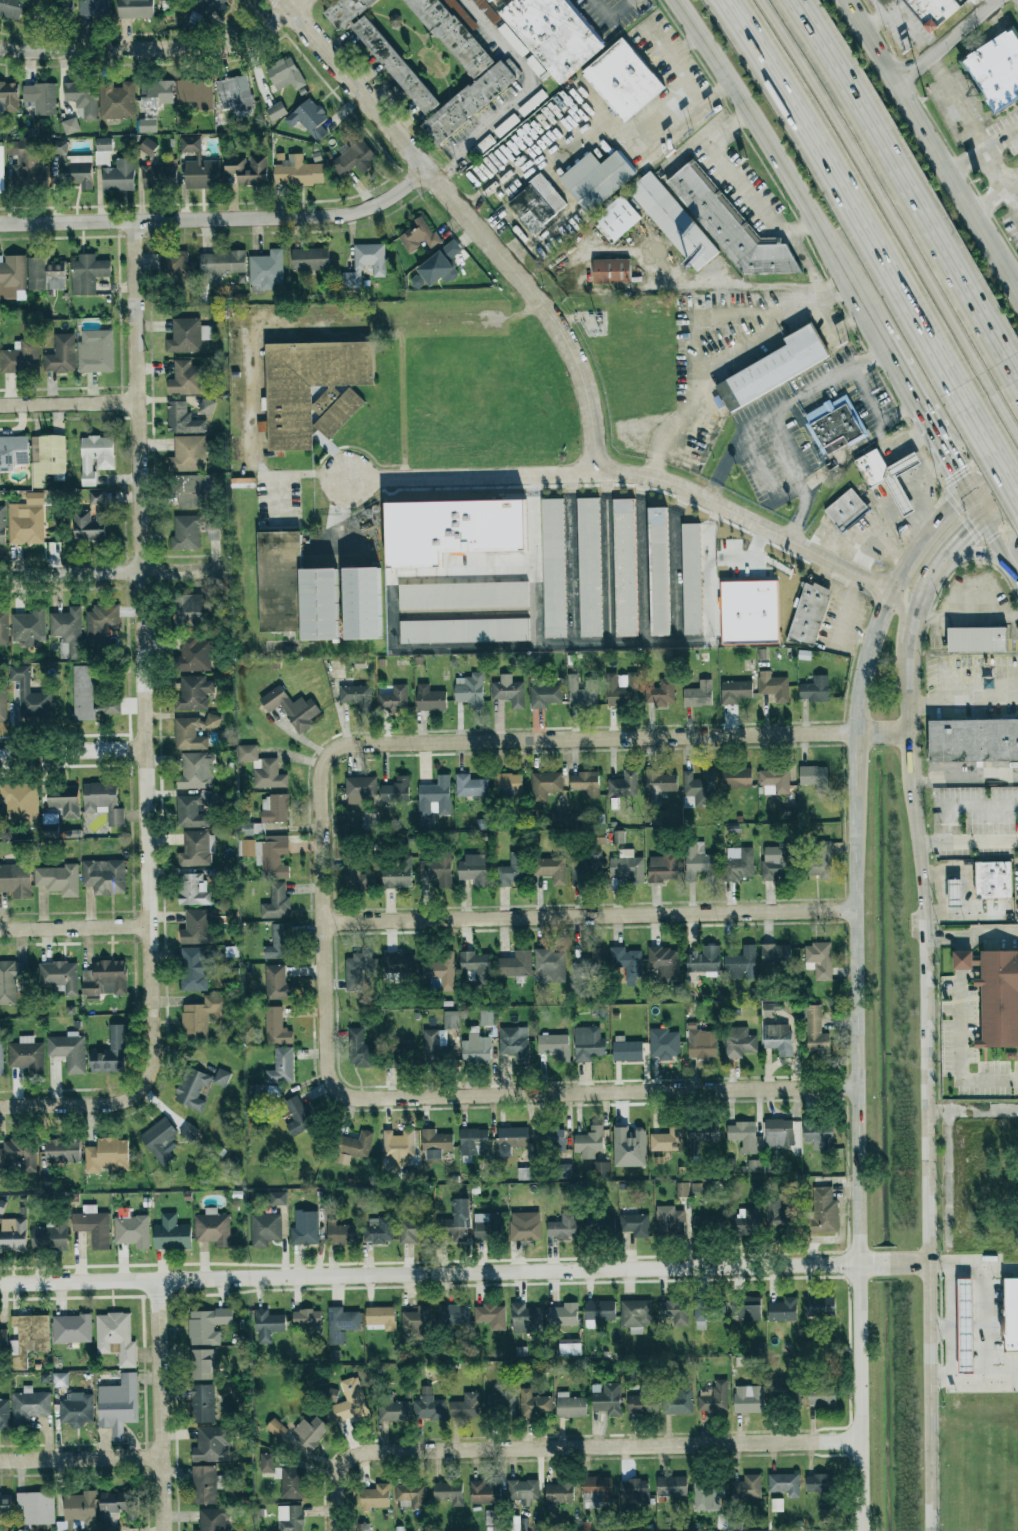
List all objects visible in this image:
building: (489, 0)
road: (294, 3)
building: (94, 7)
building: (211, 7)
building: (11, 8)
building: (134, 9)
building: (931, 11)
parking lot: (611, 16)
road: (610, 17)
road: (878, 17)
road: (907, 27)
building: (552, 35)
road: (948, 41)
road: (151, 47)
building: (379, 48)
building: (460, 69)
building: (996, 71)
building: (285, 74)
building: (623, 81)
road: (685, 81)
building: (156, 93)
building: (195, 94)
building: (234, 94)
building: (8, 96)
road: (522, 96)
building: (41, 98)
building: (82, 98)
building: (116, 100)
building: (276, 111)
building: (309, 119)
road: (968, 122)
building: (70, 126)
building: (147, 126)
building: (103, 144)
road: (933, 144)
building: (147, 146)
building: (59, 147)
road: (983, 150)
building: (102, 158)
building: (354, 159)
building: (27, 165)
building: (198, 166)
road: (785, 166)
building: (1, 169)
building: (248, 170)
building: (77, 171)
building: (297, 172)
building: (160, 175)
building: (119, 176)
road: (500, 178)
building: (597, 179)
road: (743, 185)
road: (906, 187)
road: (875, 194)
road: (994, 196)
road: (1011, 196)
road: (841, 203)
building: (537, 204)
road: (1016, 205)
building: (618, 217)
road: (219, 218)
road: (469, 221)
building: (709, 224)
building: (418, 236)
building: (453, 253)
road: (804, 258)
building: (310, 259)
building: (175, 264)
building: (364, 264)
building: (220, 266)
building: (437, 269)
building: (266, 270)
building: (611, 271)
building: (87, 273)
building: (46, 274)
building: (12, 276)
road: (740, 284)
road: (1017, 292)
road: (702, 325)
building: (187, 336)
building: (95, 351)
building: (61, 354)
building: (20, 357)
building: (773, 368)
road: (906, 370)
road: (1017, 377)
building: (186, 379)
building: (313, 389)
road: (69, 404)
road: (783, 405)
building: (206, 407)
road: (932, 416)
road: (1004, 417)
building: (182, 419)
building: (834, 425)
road: (979, 433)
parking lot: (773, 437)
road: (914, 443)
road: (946, 443)
building: (13, 452)
building: (188, 454)
building: (96, 457)
building: (47, 458)
road: (990, 460)
building: (871, 468)
traffic signals: (959, 468)
road: (790, 470)
road: (630, 474)
road: (286, 475)
road: (962, 475)
road: (994, 477)
traffic signals: (989, 481)
road: (533, 485)
road: (568, 485)
road: (604, 485)
road: (641, 487)
road: (925, 487)
building: (192, 489)
building: (899, 496)
gas station: (899, 496)
building: (96, 498)
road: (680, 499)
road: (1002, 508)
road: (715, 512)
building: (25, 524)
building: (2, 525)
building: (89, 525)
building: (452, 529)
building: (192, 531)
road: (789, 531)
road: (973, 531)
road: (994, 533)
road: (881, 535)
traffic signals: (969, 535)
road: (833, 537)
road: (956, 548)
road: (892, 549)
road: (913, 551)
road: (1015, 555)
road: (750, 557)
road: (711, 558)
building: (589, 567)
building: (624, 567)
building: (553, 568)
road: (535, 569)
road: (571, 569)
road: (607, 569)
road: (642, 569)
building: (659, 571)
road: (116, 573)
road: (428, 573)
road: (676, 573)
road: (708, 578)
building: (691, 579)
building: (295, 590)
building: (463, 595)
building: (363, 603)
building: (191, 610)
building: (750, 612)
building: (808, 615)
road: (969, 619)
building: (101, 621)
building: (3, 627)
building: (27, 627)
building: (464, 630)
building: (67, 632)
road: (900, 633)
building: (977, 639)
road: (145, 641)
road: (552, 642)
building: (194, 654)
road: (913, 657)
building: (773, 686)
building: (814, 689)
building: (470, 690)
building: (621, 690)
building: (509, 691)
building: (735, 692)
building: (83, 693)
building: (193, 693)
building: (582, 693)
building: (660, 693)
building: (29, 695)
building: (698, 695)
building: (356, 696)
building: (544, 696)
road: (964, 697)
building: (394, 699)
building: (430, 699)
building: (111, 703)
building: (3, 705)
building: (291, 708)
building: (193, 732)
road: (619, 739)
building: (973, 740)
road: (74, 749)
building: (247, 753)
building: (196, 771)
building: (268, 775)
building: (814, 777)
building: (736, 778)
building: (774, 781)
building: (585, 783)
building: (658, 784)
building: (508, 785)
building: (623, 785)
building: (470, 786)
building: (545, 786)
building: (700, 788)
building: (360, 790)
building: (396, 790)
building: (434, 798)
building: (64, 801)
building: (103, 802)
building: (21, 804)
road: (960, 805)
building: (274, 809)
building: (193, 810)
building: (557, 819)
parking lot: (977, 826)
road: (979, 841)
road: (928, 844)
building: (197, 849)
building: (268, 857)
building: (699, 862)
building: (775, 863)
building: (737, 864)
building: (627, 866)
building: (663, 867)
building: (438, 869)
building: (551, 869)
building: (587, 869)
building: (475, 870)
building: (510, 871)
building: (397, 873)
building: (104, 876)
building: (356, 876)
building: (58, 879)
building: (16, 880)
building: (993, 880)
building: (193, 890)
building: (955, 892)
building: (276, 902)
road: (589, 916)
road: (322, 921)
building: (197, 927)
road: (75, 928)
road: (989, 935)
road: (943, 938)
building: (278, 943)
road: (961, 943)
building: (775, 955)
building: (819, 960)
building: (704, 961)
road: (960, 961)
building: (397, 962)
building: (664, 962)
building: (626, 963)
building: (590, 964)
building: (741, 964)
building: (476, 965)
building: (515, 965)
building: (549, 966)
building: (195, 969)
building: (357, 970)
building: (439, 970)
building: (59, 976)
building: (105, 978)
building: (11, 980)
building: (276, 983)
building: (999, 997)
road: (942, 1009)
building: (202, 1017)
building: (487, 1018)
building: (450, 1020)
building: (276, 1027)
building: (816, 1033)
building: (778, 1039)
building: (739, 1042)
building: (514, 1043)
building: (588, 1044)
building: (664, 1044)
building: (702, 1044)
building: (554, 1046)
building: (436, 1048)
building: (476, 1048)
building: (358, 1049)
building: (626, 1050)
building: (68, 1051)
road: (958, 1052)
building: (111, 1053)
building: (26, 1054)
building: (403, 1056)
building: (1, 1058)
building: (281, 1066)
road: (856, 1076)
building: (197, 1087)
building: (257, 1094)
road: (595, 1097)
road: (87, 1104)
road: (982, 1113)
road: (937, 1114)
building: (297, 1116)
building: (188, 1132)
building: (778, 1132)
building: (818, 1133)
building: (701, 1135)
building: (743, 1136)
building: (513, 1137)
building: (550, 1139)
building: (668, 1139)
building: (160, 1140)
building: (474, 1142)
building: (589, 1142)
building: (435, 1143)
building: (398, 1144)
building: (354, 1147)
building: (629, 1147)
building: (62, 1150)
road: (928, 1150)
building: (17, 1155)
building: (106, 1156)
building: (754, 1165)
building: (601, 1169)
building: (564, 1171)
building: (682, 1190)
building: (278, 1198)
building: (823, 1212)
building: (777, 1215)
building: (669, 1221)
building: (455, 1222)
building: (745, 1223)
building: (707, 1224)
building: (594, 1225)
building: (636, 1225)
building: (93, 1226)
building: (562, 1227)
building: (212, 1228)
building: (130, 1229)
building: (265, 1229)
building: (305, 1229)
building: (379, 1230)
building: (414, 1230)
building: (525, 1231)
building: (171, 1234)
building: (340, 1234)
building: (13, 1235)
building: (50, 1237)
road: (892, 1264)
road: (428, 1274)
building: (819, 1306)
building: (749, 1309)
building: (599, 1310)
building: (782, 1310)
building: (674, 1312)
building: (454, 1314)
building: (563, 1315)
building: (635, 1315)
building: (1011, 1315)
building: (491, 1316)
building: (381, 1317)
building: (308, 1320)
building: (526, 1320)
building: (417, 1322)
road: (989, 1322)
building: (341, 1324)
building: (207, 1325)
building: (268, 1325)
building: (966, 1325)
building: (71, 1328)
building: (29, 1336)
building: (116, 1337)
building: (3, 1340)
building: (569, 1347)
building: (202, 1364)
building: (60, 1380)
building: (821, 1395)
building: (606, 1398)
building: (714, 1399)
building: (749, 1399)
building: (644, 1400)
building: (677, 1400)
building: (202, 1403)
building: (348, 1403)
building: (498, 1404)
road: (162, 1405)
building: (534, 1405)
building: (29, 1406)
building: (117, 1406)
building: (428, 1406)
building: (465, 1406)
building: (570, 1406)
building: (392, 1409)
building: (76, 1410)
building: (4, 1414)
building: (275, 1428)
building: (310, 1432)
building: (212, 1444)
road: (564, 1450)
road: (81, 1459)
building: (266, 1463)
building: (292, 1483)
building: (204, 1484)
building: (784, 1484)
building: (821, 1485)
building: (671, 1486)
building: (746, 1488)
building: (597, 1489)
building: (522, 1491)
building: (634, 1491)
building: (449, 1493)
building: (484, 1493)
building: (559, 1493)
building: (411, 1495)
building: (708, 1495)
building: (375, 1497)
building: (5, 1505)
building: (118, 1505)
building: (777, 1505)
building: (35, 1508)
building: (725, 1508)
building: (77, 1510)
building: (493, 1517)
building: (290, 1518)
building: (213, 1519)

